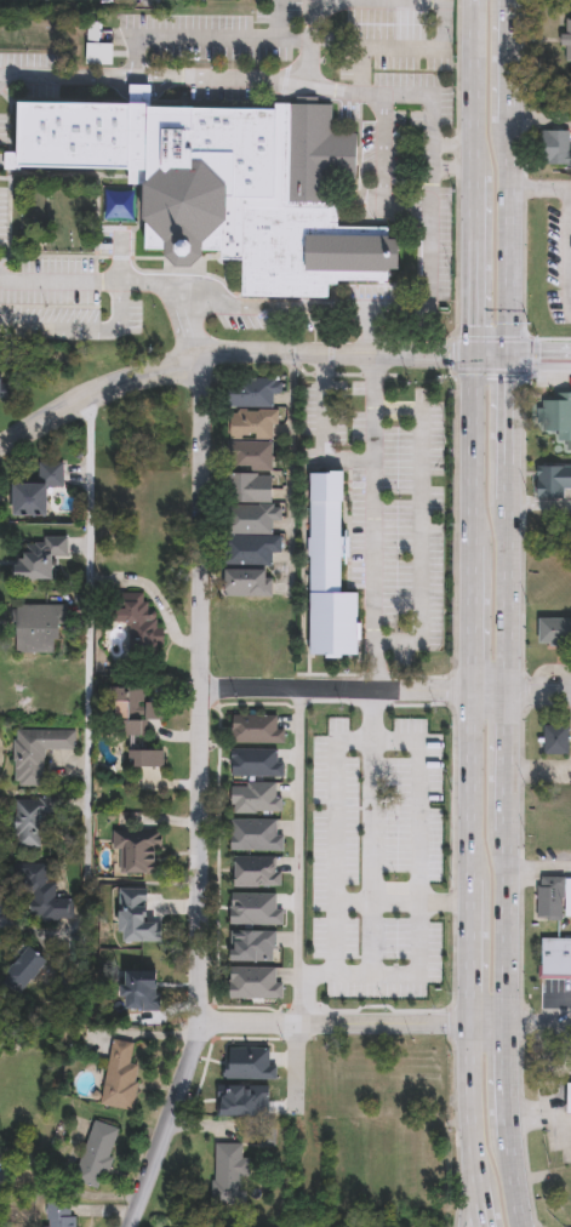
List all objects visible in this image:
road: (141, 0)
road: (372, 0)
road: (304, 24)
building: (566, 35)
road: (142, 45)
road: (370, 46)
road: (438, 55)
road: (427, 125)
road: (474, 143)
road: (449, 147)
building: (558, 147)
road: (449, 165)
road: (383, 175)
road: (510, 177)
road: (541, 184)
building: (224, 187)
park: (57, 216)
road: (104, 289)
road: (264, 315)
road: (358, 316)
road: (182, 330)
road: (356, 333)
road: (245, 352)
traffic signals: (474, 355)
traffic signals: (509, 355)
road: (539, 355)
building: (0, 386)
building: (253, 392)
building: (556, 416)
road: (316, 432)
building: (253, 439)
building: (550, 479)
building: (36, 489)
road: (541, 503)
road: (372, 520)
building: (252, 521)
road: (418, 521)
building: (39, 557)
building: (325, 570)
building: (250, 583)
building: (135, 627)
building: (39, 629)
building: (555, 632)
road: (90, 634)
road: (359, 687)
road: (541, 691)
building: (133, 710)
road: (371, 713)
building: (259, 730)
building: (553, 736)
building: (36, 752)
road: (472, 757)
road: (570, 759)
road: (337, 764)
building: (142, 770)
building: (422, 771)
road: (508, 791)
road: (205, 798)
building: (257, 799)
building: (33, 821)
building: (258, 835)
building: (137, 850)
road: (297, 852)
road: (539, 867)
building: (258, 873)
building: (44, 897)
building: (555, 898)
building: (554, 955)
building: (27, 966)
road: (378, 971)
building: (256, 983)
road: (312, 987)
road: (558, 997)
road: (544, 1008)
road: (353, 1018)
road: (537, 1018)
road: (286, 1062)
building: (120, 1077)
building: (570, 1098)
building: (269, 1132)
building: (97, 1154)
road: (464, 1170)
building: (230, 1176)
building: (61, 1214)

